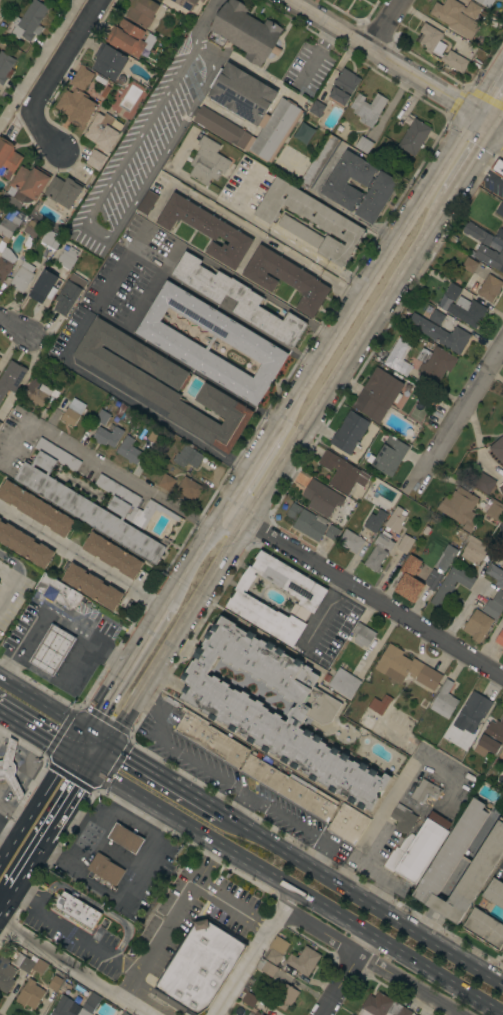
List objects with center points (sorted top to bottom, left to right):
building: (202, 0)
building: (358, 0)
building: (485, 2)
building: (186, 3)
building: (141, 11)
building: (457, 16)
building: (29, 21)
road: (384, 24)
building: (243, 32)
building: (126, 38)
building: (439, 47)
road: (379, 55)
road: (39, 59)
building: (108, 61)
building: (475, 63)
building: (5, 66)
road: (47, 78)
building: (343, 87)
road: (489, 89)
building: (77, 99)
building: (316, 108)
building: (367, 108)
building: (248, 112)
traffic signals: (475, 112)
road: (148, 115)
road: (485, 119)
road: (499, 120)
traffic signals: (496, 126)
road: (499, 128)
building: (103, 131)
building: (302, 132)
building: (414, 137)
building: (364, 144)
building: (8, 157)
building: (95, 159)
road: (443, 159)
building: (320, 161)
road: (473, 161)
building: (207, 162)
building: (497, 168)
building: (348, 179)
building: (25, 186)
building: (63, 191)
building: (376, 197)
building: (147, 202)
building: (499, 209)
building: (8, 215)
building: (311, 219)
building: (10, 225)
building: (30, 228)
building: (206, 229)
building: (299, 231)
road: (274, 233)
building: (476, 233)
building: (499, 233)
road: (260, 235)
building: (0, 239)
building: (50, 239)
building: (496, 243)
building: (67, 257)
building: (490, 257)
building: (6, 263)
building: (469, 265)
building: (22, 277)
building: (285, 278)
road: (112, 282)
building: (43, 287)
road: (361, 287)
building: (489, 288)
building: (452, 291)
building: (67, 297)
building: (237, 298)
building: (467, 311)
building: (436, 317)
road: (14, 327)
building: (440, 333)
building: (211, 343)
building: (398, 357)
road: (349, 359)
building: (434, 364)
building: (11, 377)
building: (102, 377)
building: (162, 384)
building: (44, 390)
road: (293, 394)
building: (377, 394)
road: (133, 401)
road: (459, 410)
building: (72, 412)
building: (102, 417)
building: (0, 423)
building: (502, 428)
building: (349, 433)
building: (107, 436)
building: (155, 436)
building: (498, 448)
building: (128, 450)
building: (388, 456)
building: (187, 457)
road: (95, 458)
road: (248, 464)
building: (342, 472)
building: (166, 482)
building: (483, 483)
building: (500, 486)
building: (188, 488)
building: (321, 498)
building: (71, 502)
building: (35, 508)
building: (459, 508)
building: (495, 511)
building: (0, 519)
building: (395, 519)
building: (374, 520)
building: (306, 522)
building: (332, 532)
building: (350, 541)
building: (404, 543)
building: (25, 545)
building: (378, 551)
building: (478, 551)
road: (81, 555)
building: (112, 555)
road: (192, 555)
building: (445, 557)
road: (14, 571)
building: (495, 575)
building: (415, 583)
building: (451, 585)
building: (92, 586)
building: (58, 591)
road: (362, 592)
parking lot: (11, 593)
building: (242, 599)
building: (494, 605)
road: (161, 607)
road: (322, 612)
road: (52, 613)
building: (477, 625)
road: (145, 632)
road: (175, 632)
building: (363, 635)
building: (499, 638)
building: (52, 650)
gas station: (52, 650)
building: (502, 652)
building: (406, 668)
building: (344, 683)
road: (107, 691)
building: (444, 700)
road: (42, 703)
building: (379, 704)
building: (274, 707)
road: (159, 708)
building: (473, 710)
road: (2, 718)
building: (367, 722)
traffic signals: (84, 729)
road: (34, 730)
road: (95, 736)
building: (210, 739)
building: (490, 739)
road: (76, 740)
traffic signals: (106, 744)
road: (28, 746)
road: (2, 750)
traffic signals: (69, 751)
road: (9, 754)
road: (99, 754)
building: (502, 756)
road: (80, 758)
road: (17, 759)
traffic signals: (92, 765)
road: (22, 766)
building: (502, 766)
building: (10, 768)
road: (58, 768)
building: (264, 773)
road: (19, 775)
road: (35, 778)
road: (164, 779)
parking lot: (229, 780)
road: (401, 780)
road: (13, 782)
building: (425, 791)
road: (5, 795)
road: (253, 796)
building: (308, 798)
road: (66, 802)
road: (36, 803)
road: (128, 805)
road: (13, 812)
road: (103, 818)
building: (402, 818)
road: (77, 822)
building: (347, 824)
road: (19, 831)
road: (6, 836)
building: (125, 838)
gas station: (125, 838)
building: (423, 846)
road: (6, 852)
building: (398, 854)
road: (468, 854)
road: (26, 867)
building: (105, 869)
road: (367, 869)
building: (438, 872)
road: (296, 889)
building: (494, 893)
road: (119, 895)
road: (363, 898)
road: (5, 901)
road: (436, 903)
road: (176, 908)
road: (230, 908)
building: (76, 910)
road: (425, 921)
building: (484, 928)
road: (86, 941)
building: (276, 949)
road: (255, 951)
building: (303, 960)
road: (370, 962)
building: (23, 963)
building: (199, 966)
building: (39, 967)
building: (265, 967)
road: (74, 970)
building: (6, 974)
road: (346, 974)
road: (502, 982)
building: (55, 983)
building: (30, 994)
building: (284, 995)
road: (162, 997)
building: (249, 999)
building: (89, 1005)
building: (382, 1006)
building: (62, 1007)
building: (124, 1013)
building: (258, 1013)
building: (94, 1014)
building: (415, 1014)

